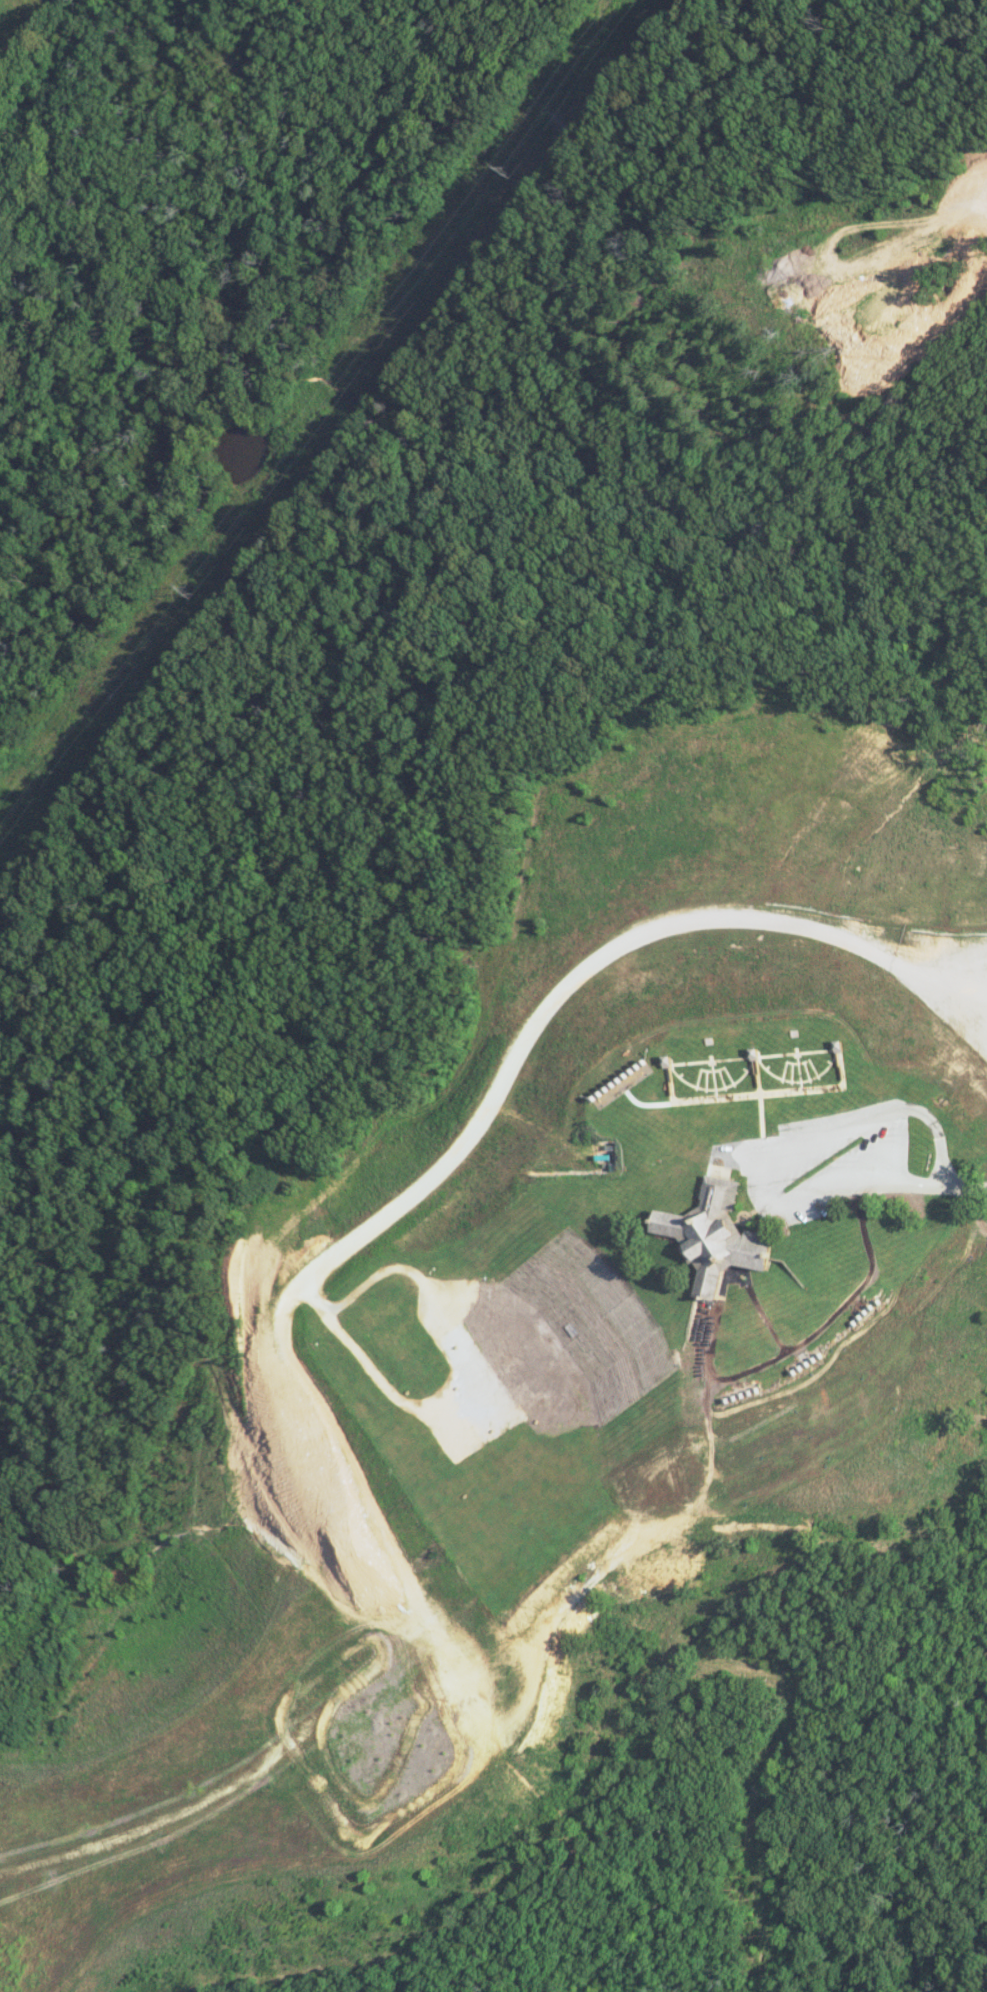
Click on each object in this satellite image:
power tower: (508, 168)
power tower: (183, 593)
road: (776, 1158)
road: (962, 1186)
building: (712, 1235)
building: (439, 1260)

